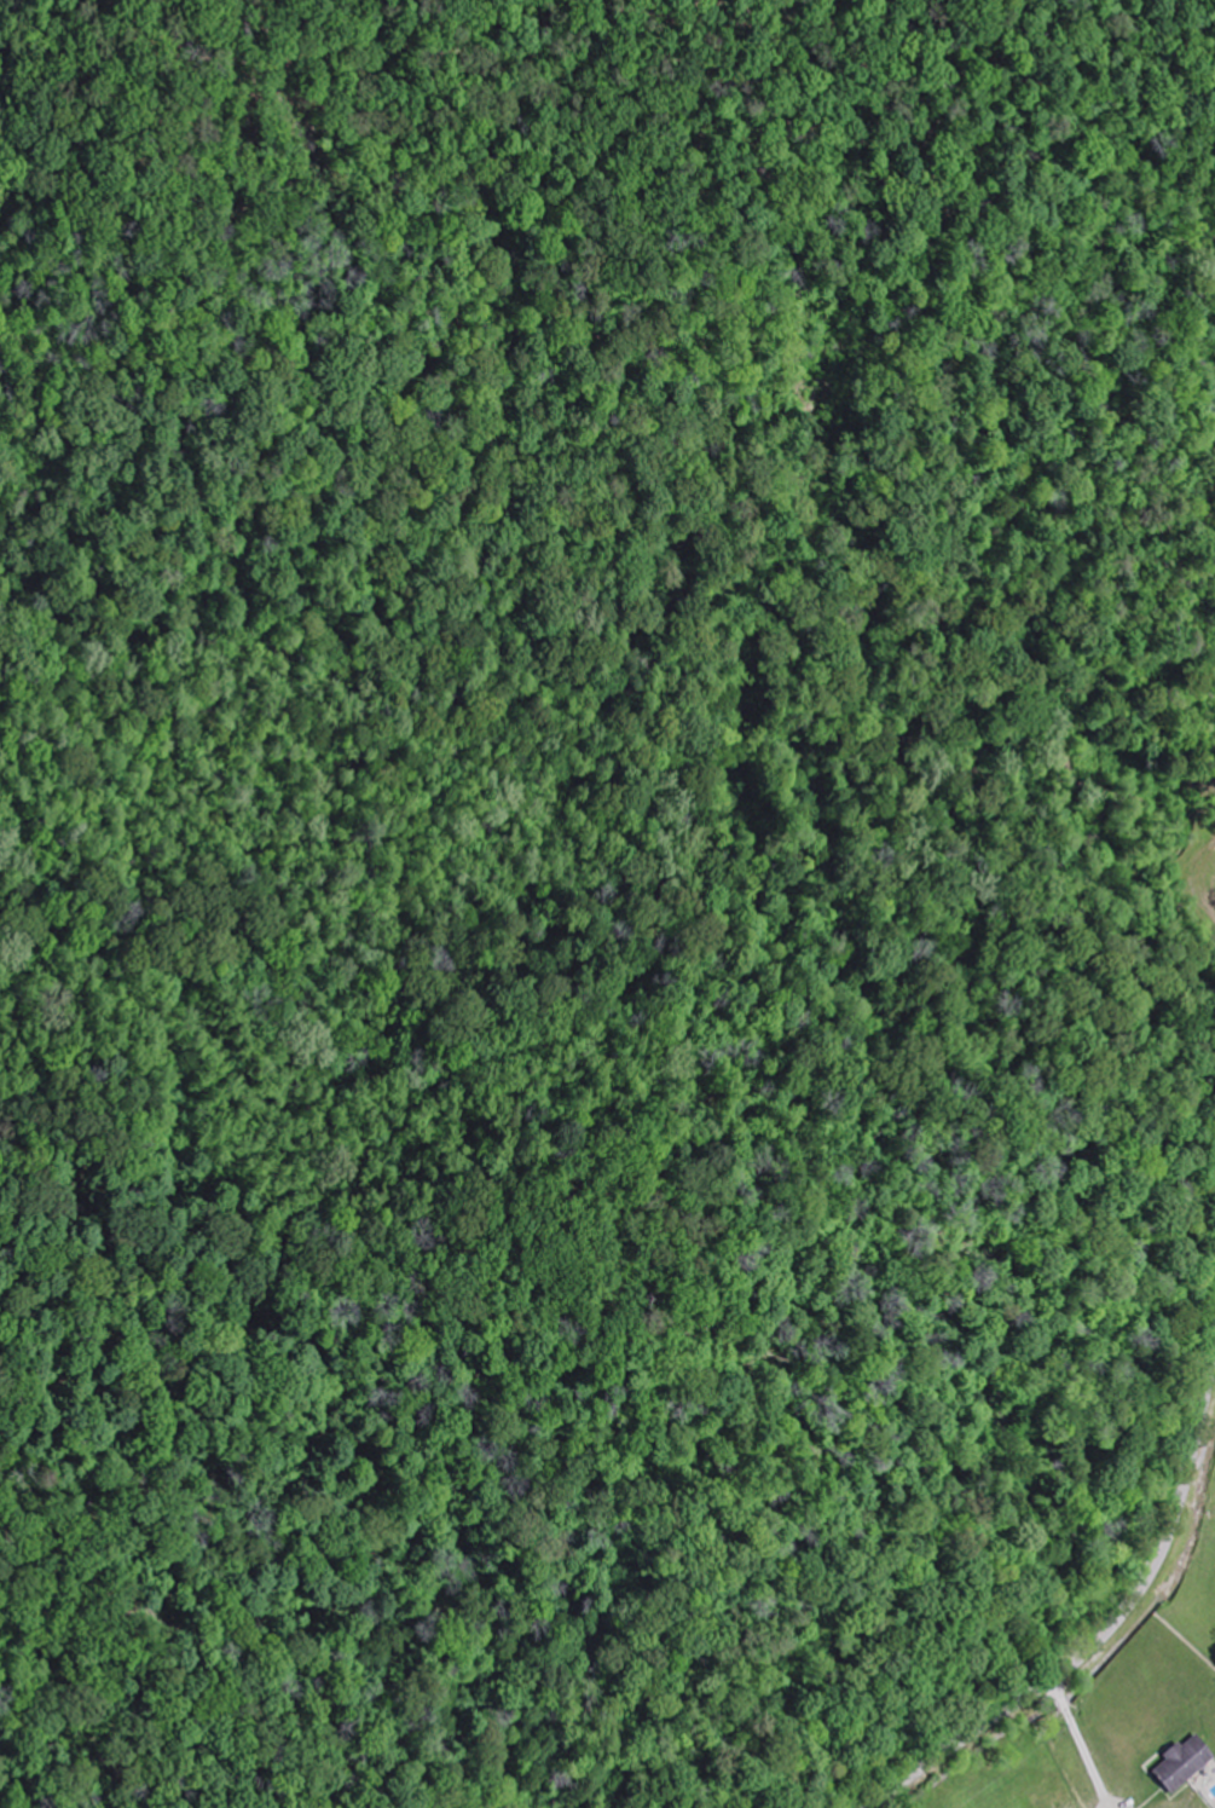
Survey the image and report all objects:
road: (1105, 1634)
building: (1187, 1763)

